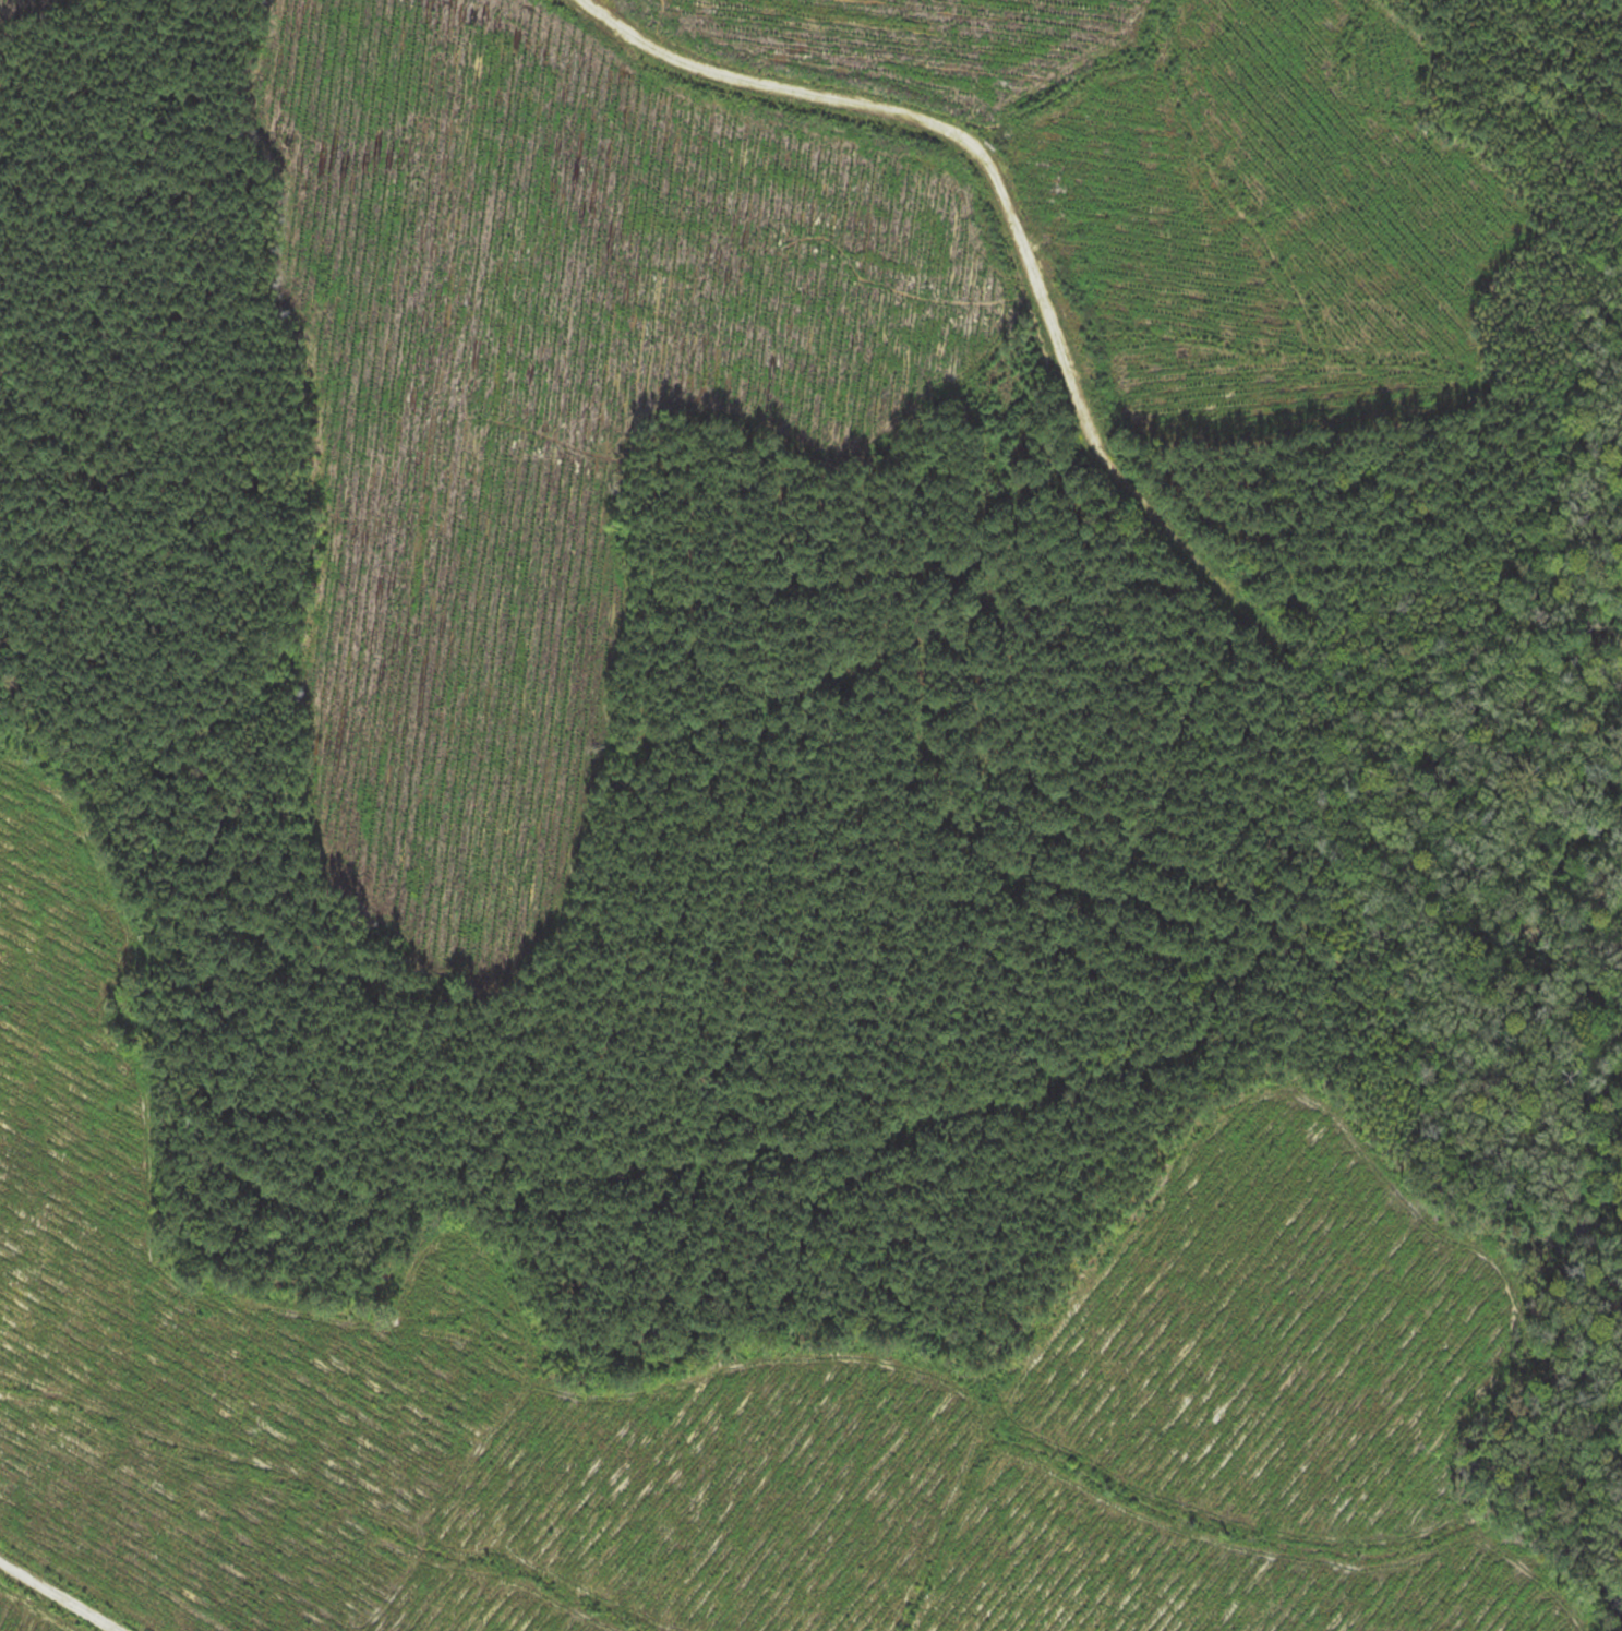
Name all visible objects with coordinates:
road: (50, 1599)

